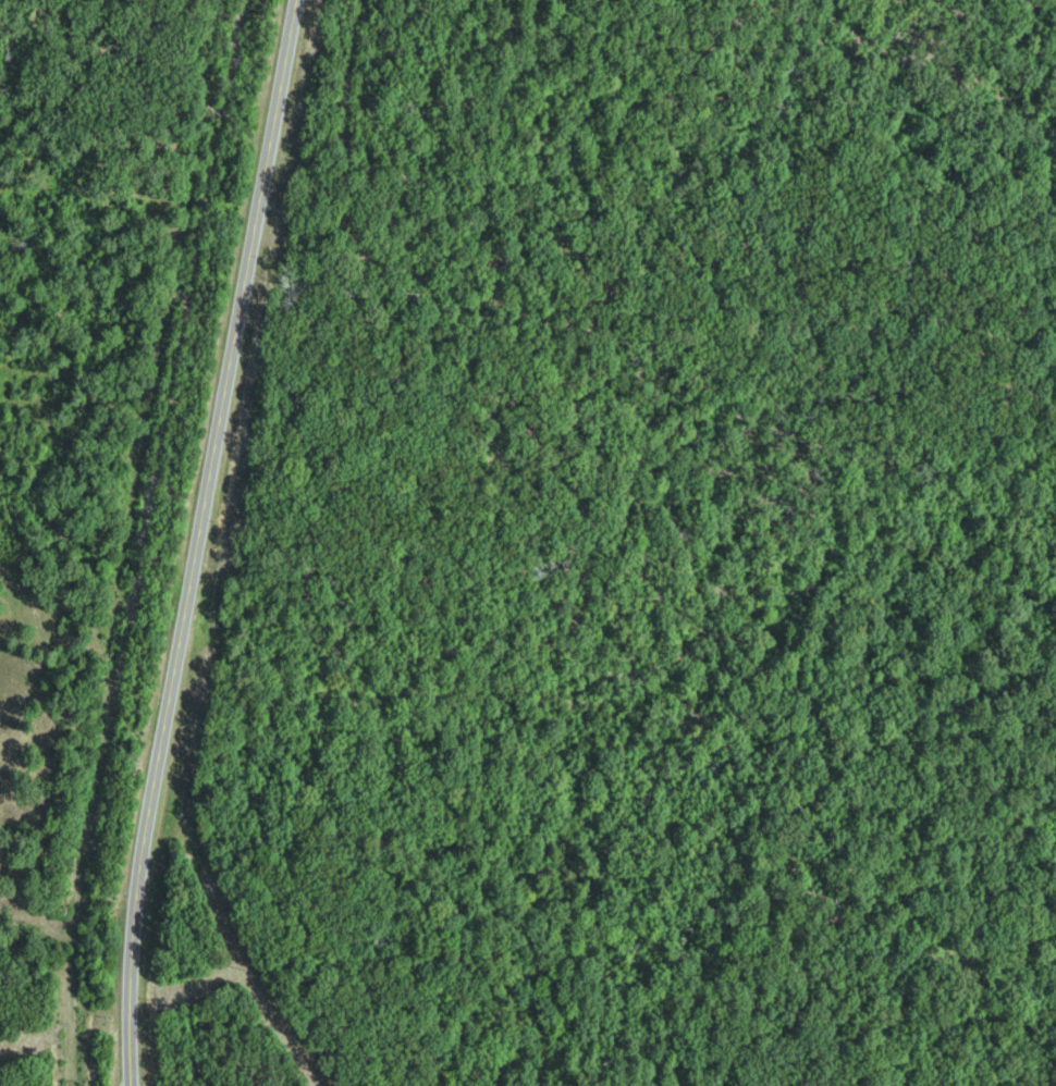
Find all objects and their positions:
road: (355, 170)
road: (149, 541)
road: (199, 541)
road: (58, 1024)

